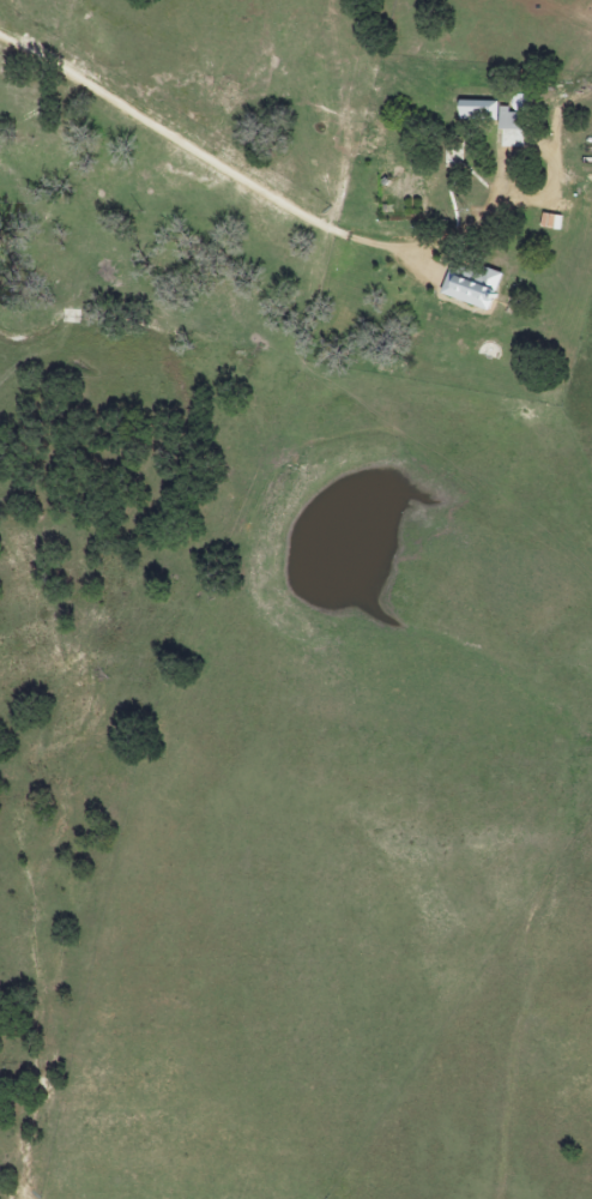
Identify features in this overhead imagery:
building: (502, 122)
road: (215, 163)

